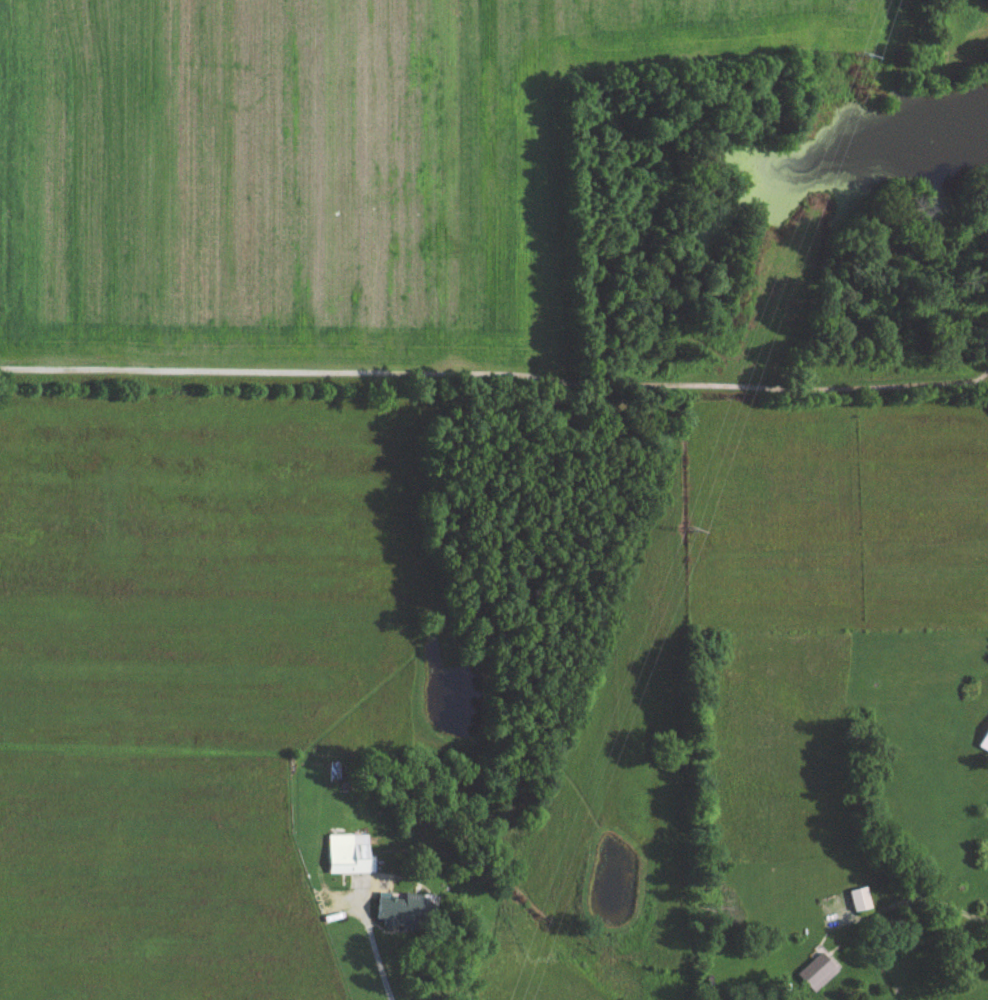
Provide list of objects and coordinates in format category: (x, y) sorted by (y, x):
building: (982, 744)
building: (343, 859)
building: (853, 904)
building: (399, 914)
building: (811, 976)

